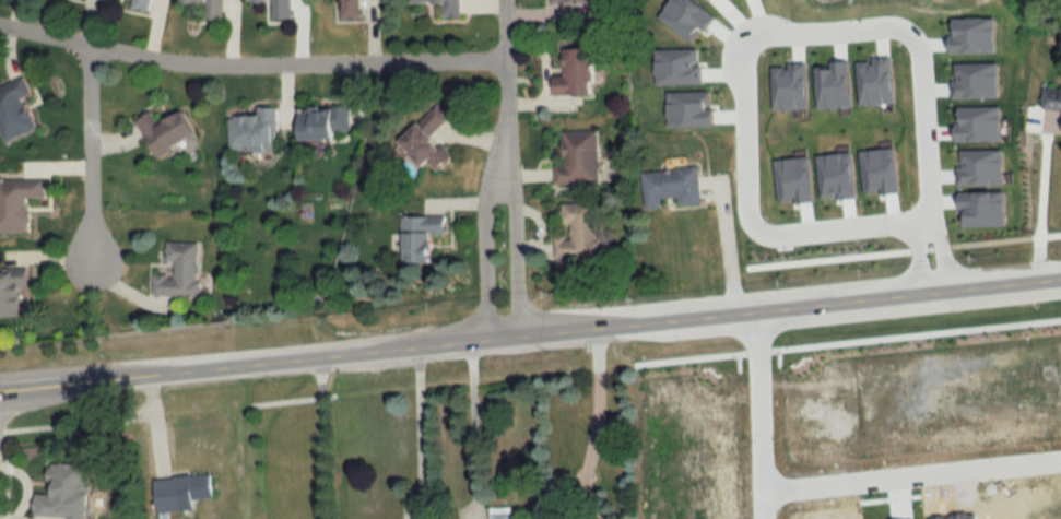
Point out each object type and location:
building: (566, 2)
building: (144, 4)
building: (448, 7)
building: (213, 9)
building: (283, 9)
building: (352, 9)
road: (740, 46)
road: (250, 63)
building: (571, 74)
road: (506, 86)
building: (640, 99)
building: (1051, 103)
building: (16, 110)
building: (326, 122)
building: (255, 131)
building: (168, 132)
building: (431, 141)
road: (89, 151)
building: (575, 158)
building: (669, 188)
road: (1023, 194)
building: (19, 203)
building: (570, 232)
building: (423, 236)
road: (514, 252)
road: (483, 253)
road: (940, 253)
road: (923, 255)
building: (181, 271)
building: (13, 294)
road: (530, 333)
road: (762, 414)
road: (474, 422)
road: (596, 424)
road: (420, 432)
road: (321, 437)
road: (912, 475)
building: (187, 489)
building: (68, 493)
building: (941, 494)
building: (498, 514)
building: (1021, 518)

